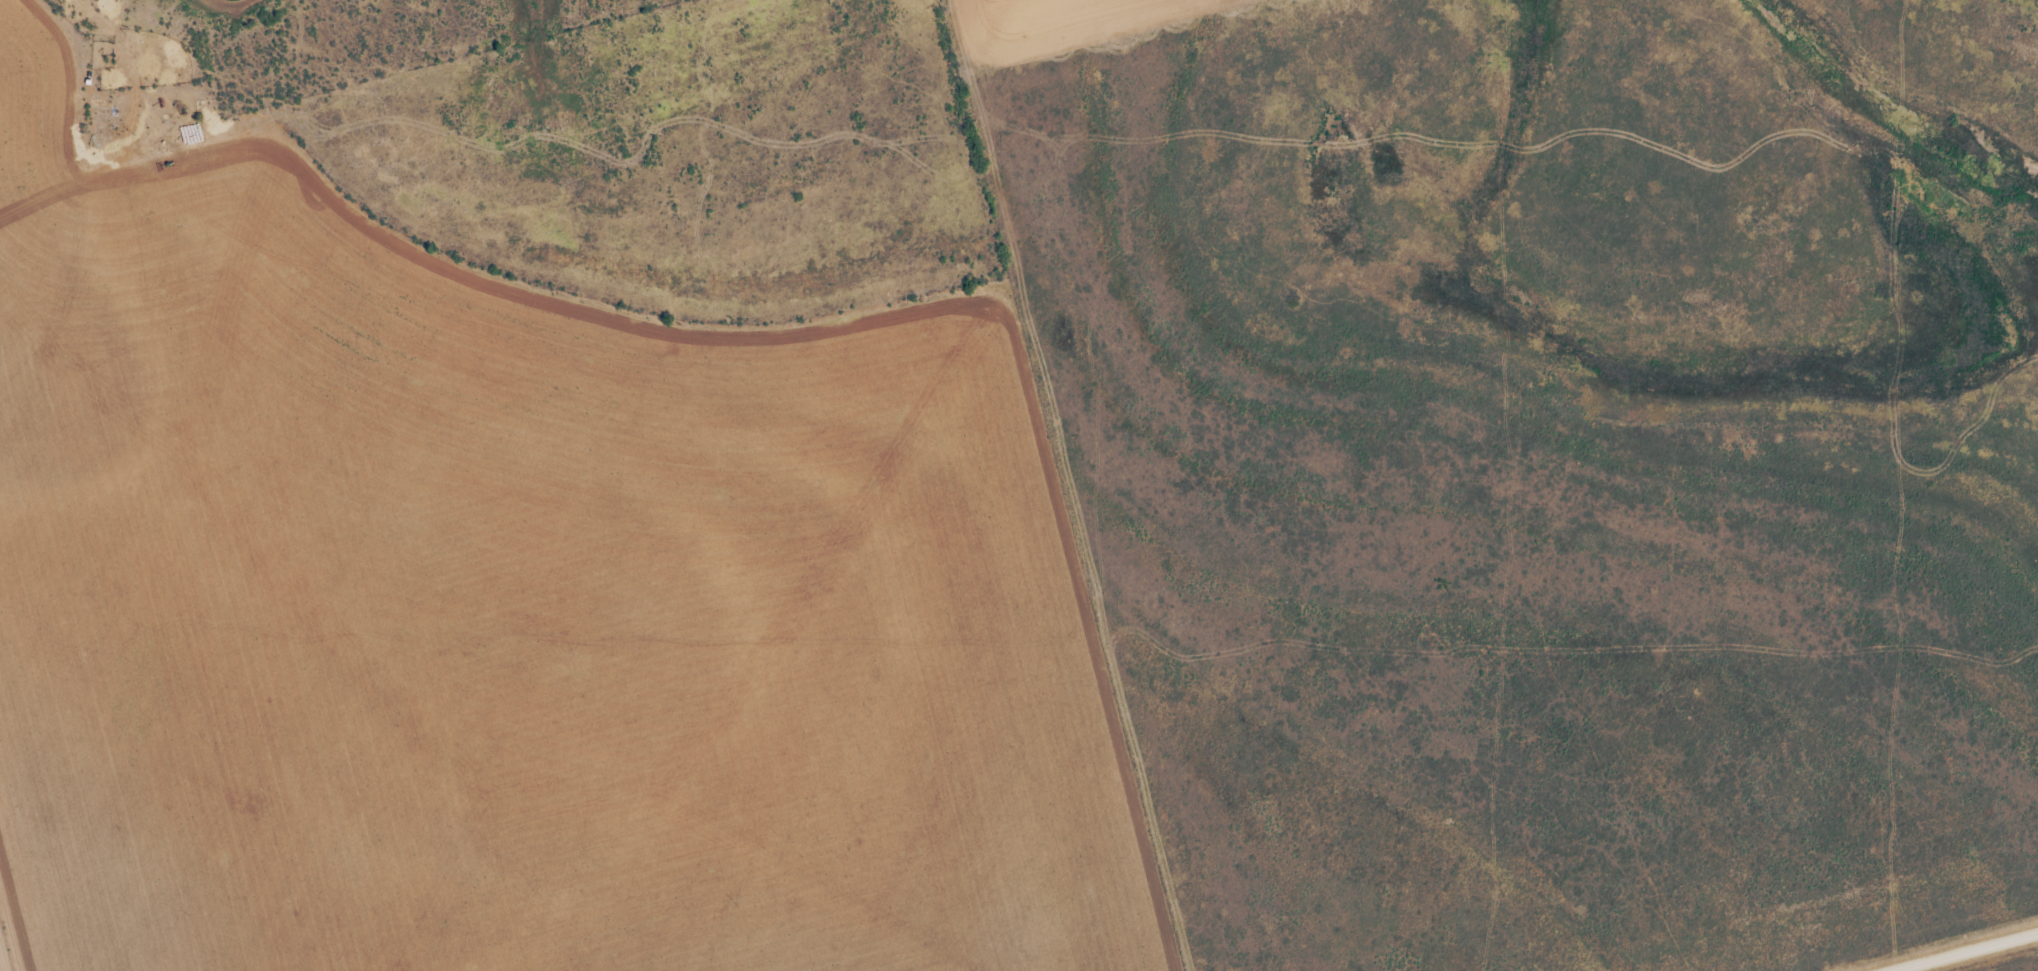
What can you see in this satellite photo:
road: (66, 1)
road: (1923, 941)

